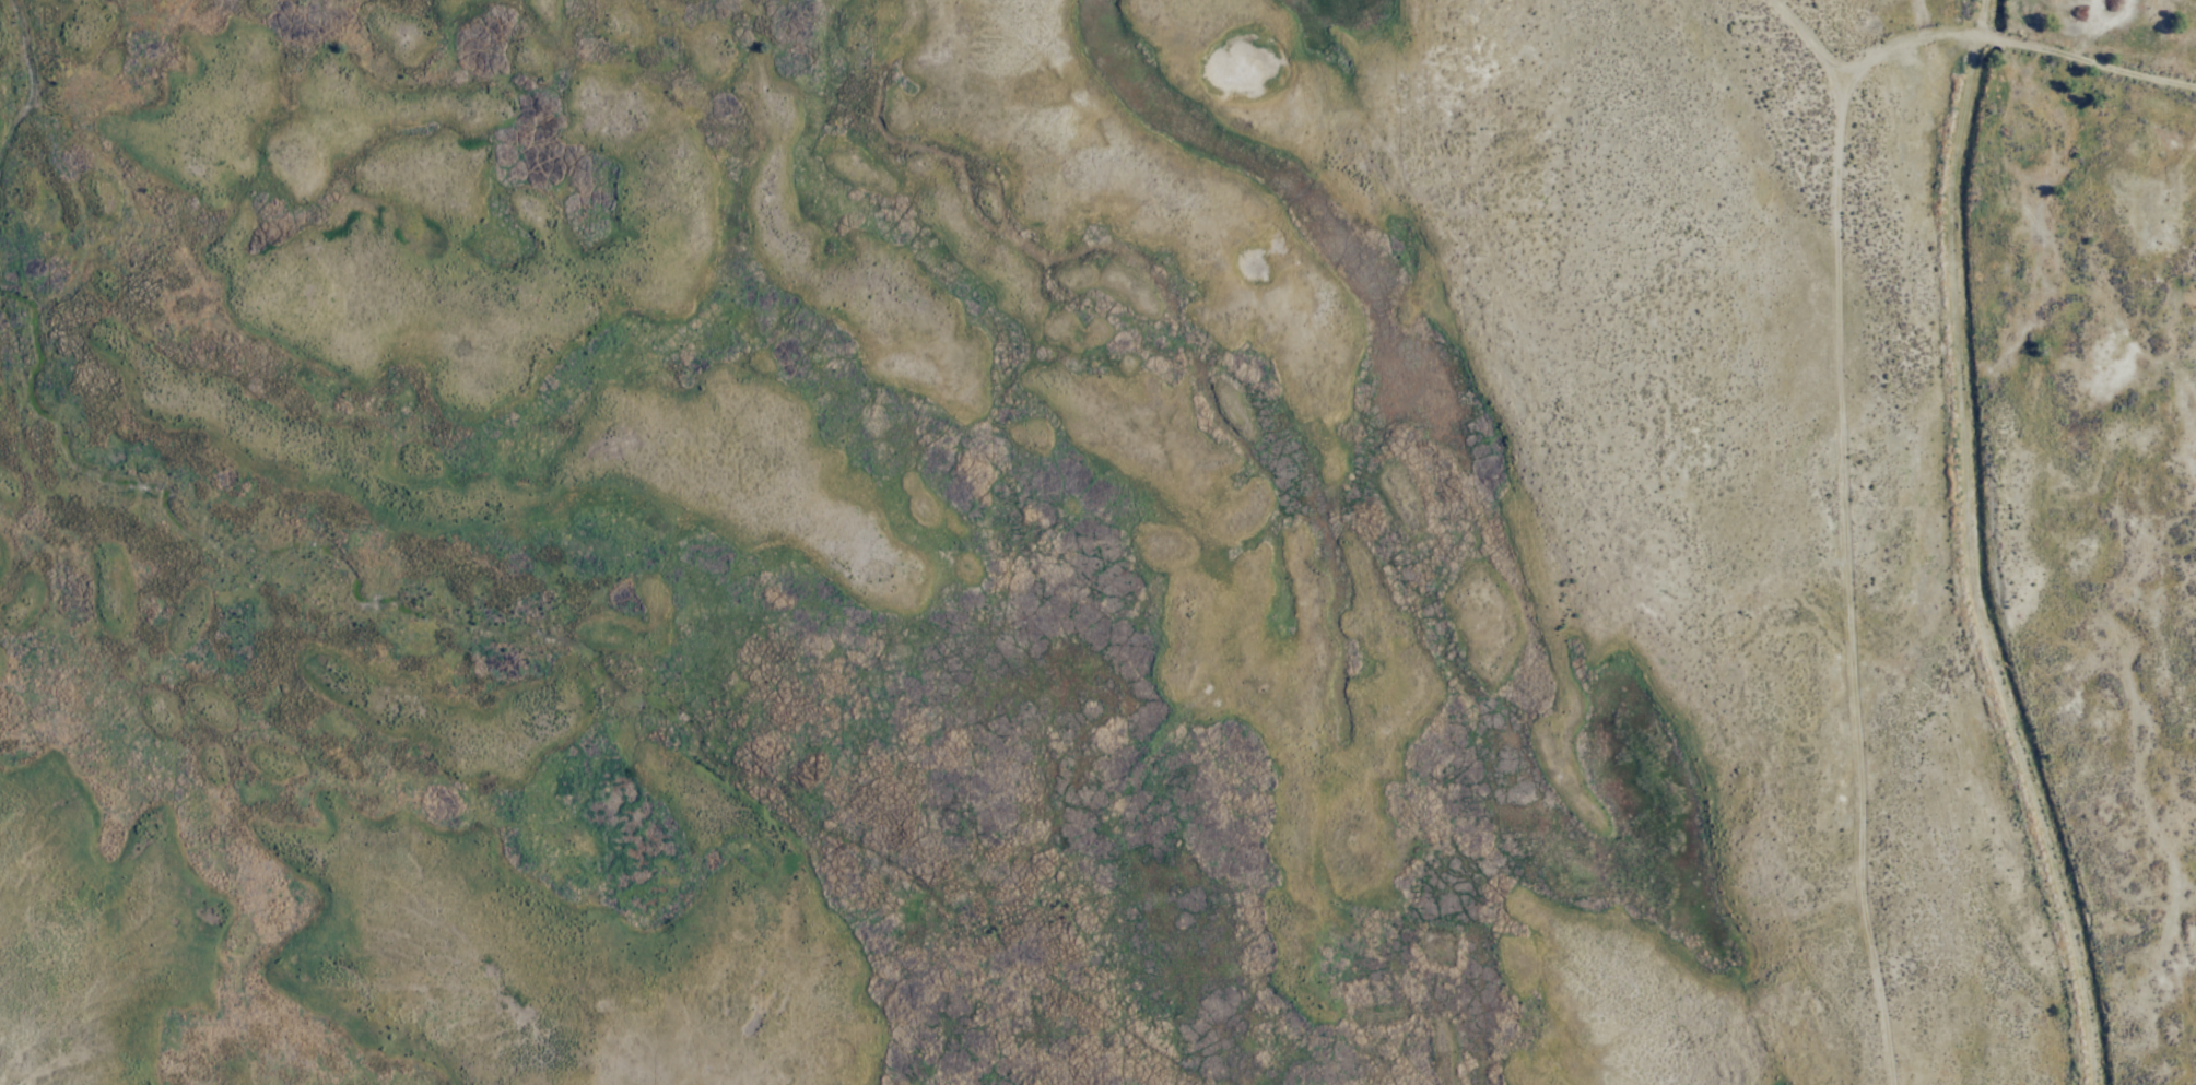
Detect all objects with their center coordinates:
road: (2018, 49)
road: (1849, 529)
road: (1973, 549)

